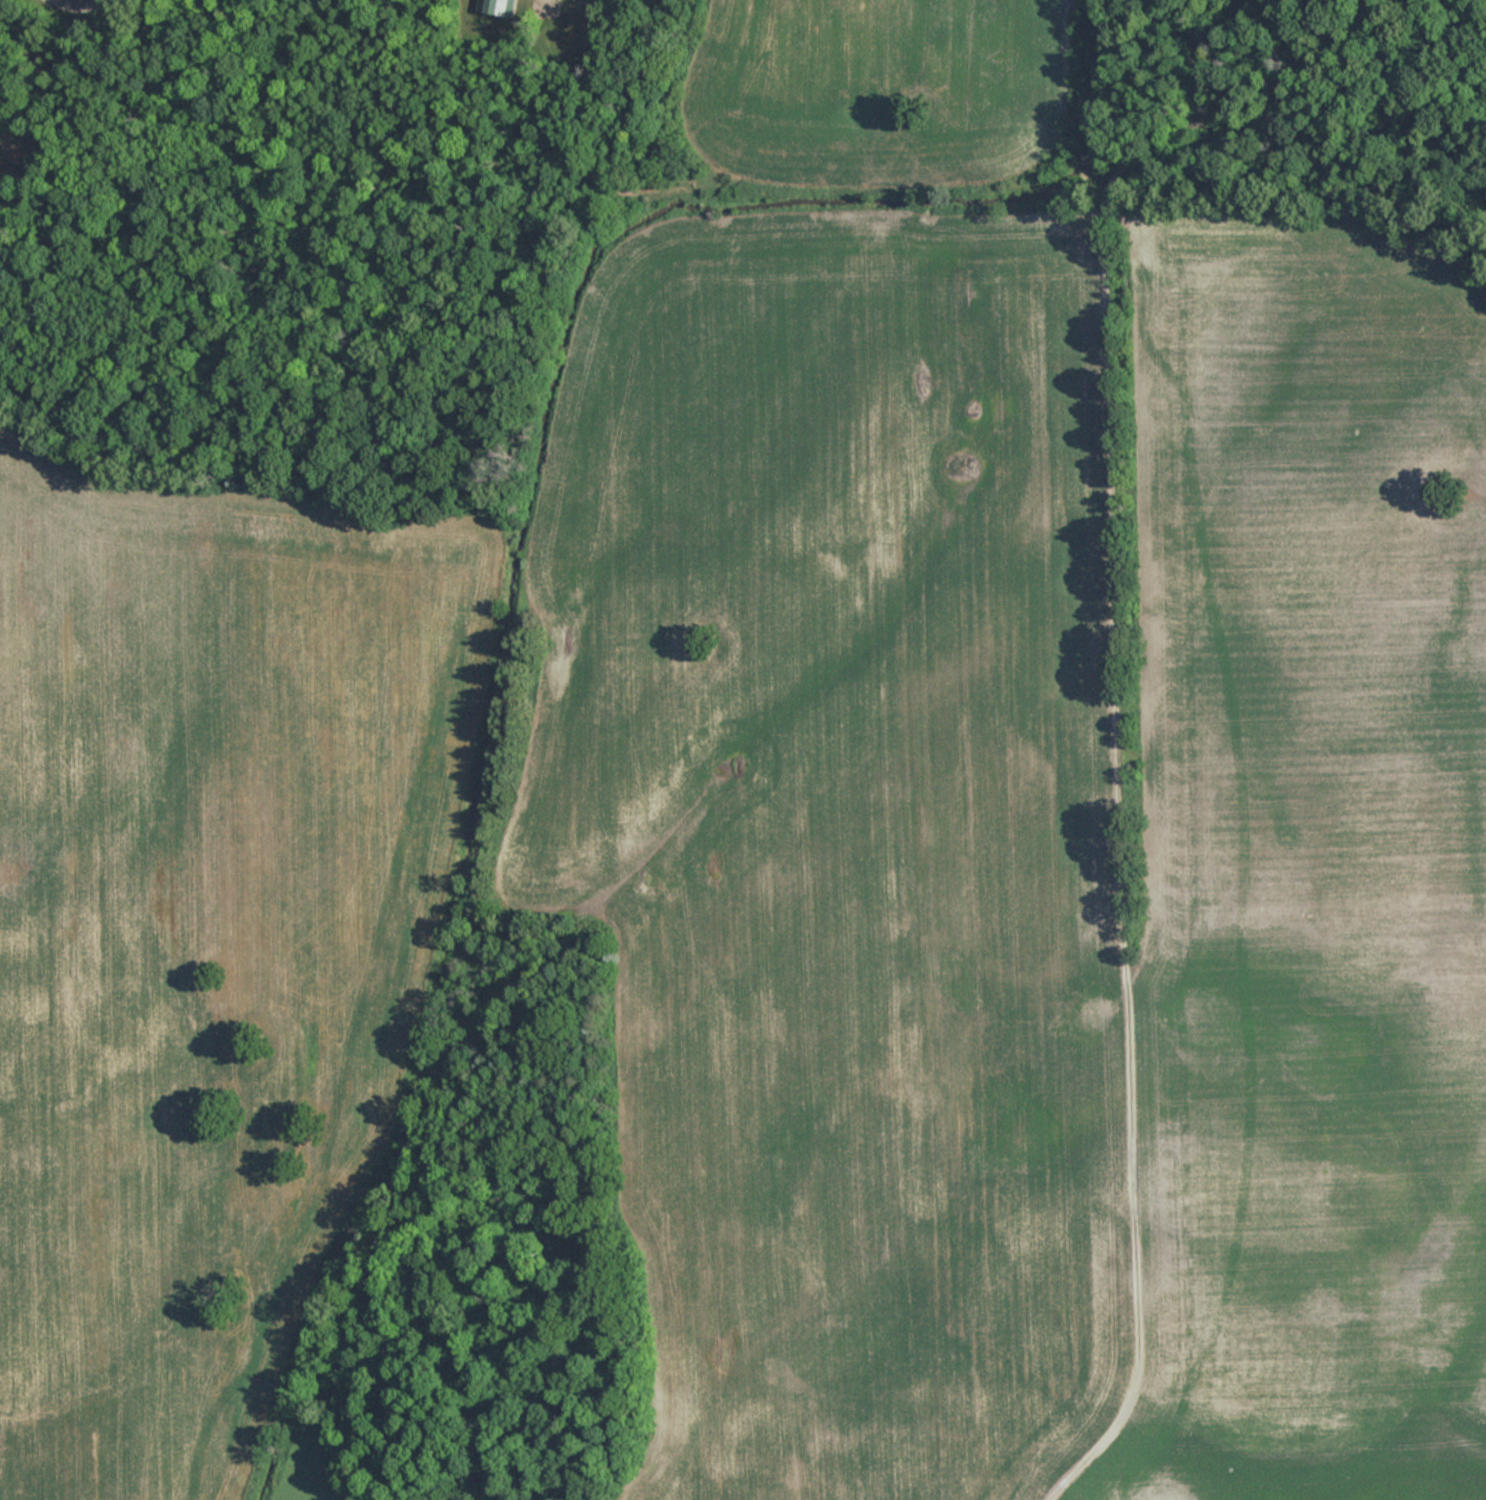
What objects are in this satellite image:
road: (79, 1)
building: (1325, 165)
road: (1109, 740)

